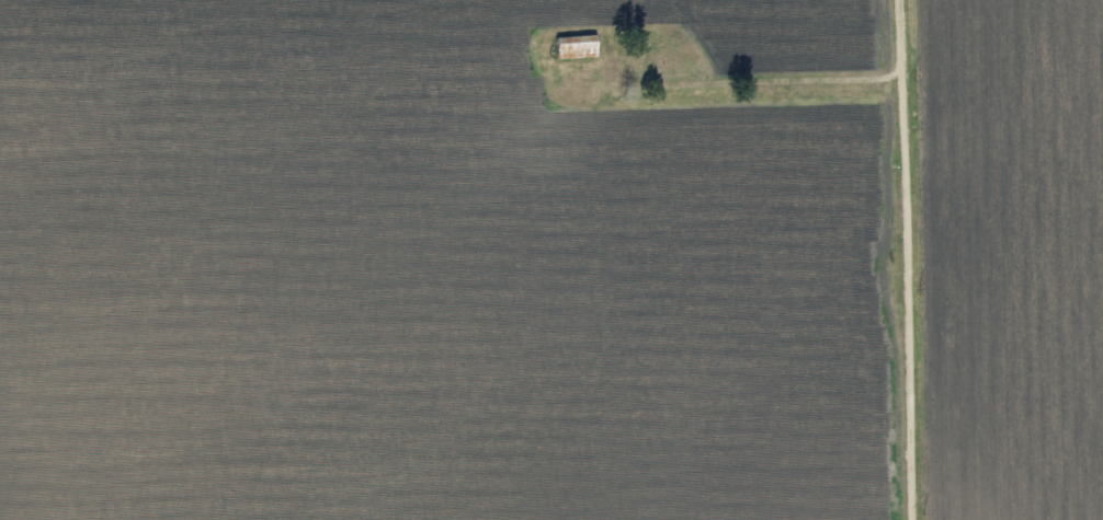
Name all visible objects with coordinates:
building: (566, 46)
road: (897, 259)

